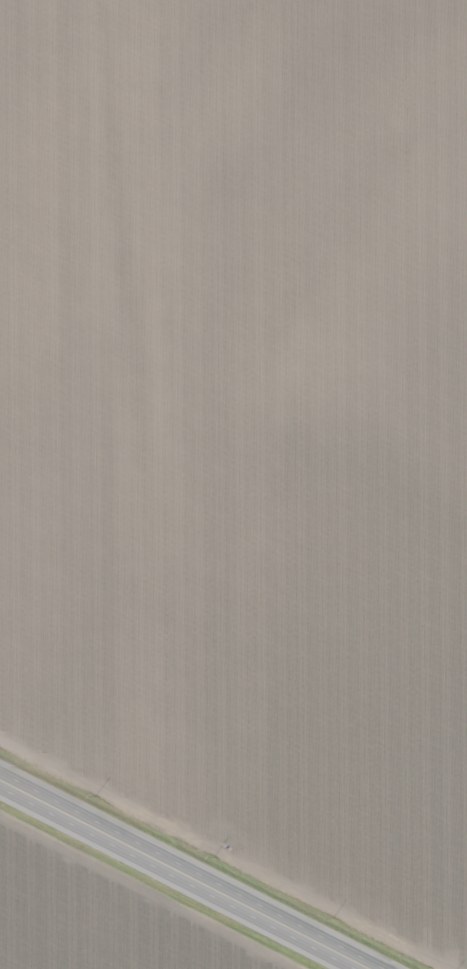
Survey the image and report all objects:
road: (180, 876)

